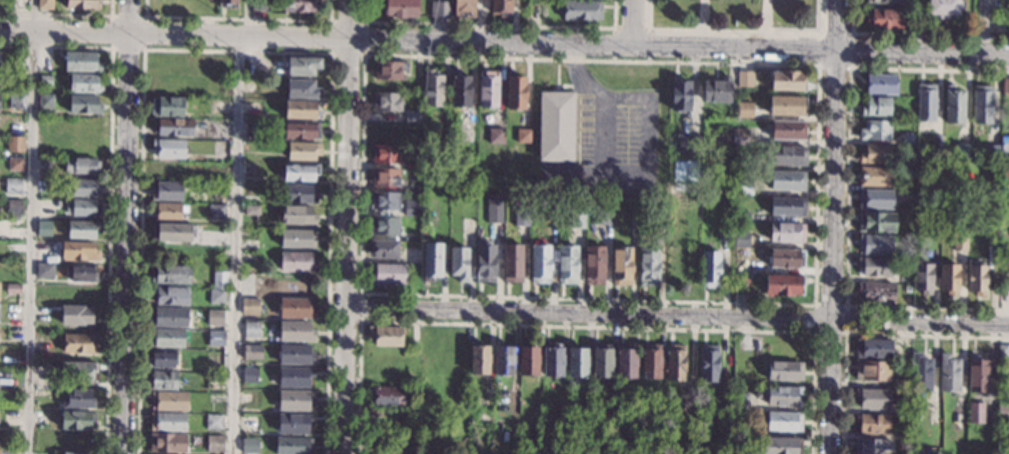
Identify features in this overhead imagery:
building: (885, 1)
building: (20, 4)
building: (82, 4)
building: (226, 4)
building: (45, 5)
building: (257, 5)
building: (300, 5)
building: (500, 7)
building: (399, 8)
building: (944, 8)
building: (439, 9)
building: (463, 9)
building: (534, 10)
building: (581, 10)
building: (883, 19)
road: (628, 22)
road: (983, 27)
road: (504, 40)
building: (44, 62)
building: (81, 62)
building: (302, 66)
building: (390, 70)
building: (744, 79)
building: (45, 80)
building: (787, 81)
building: (85, 84)
building: (881, 85)
building: (1005, 86)
building: (301, 89)
building: (432, 89)
building: (460, 90)
building: (488, 90)
building: (717, 90)
building: (515, 91)
building: (680, 95)
building: (17, 101)
building: (45, 101)
building: (386, 102)
building: (925, 103)
building: (84, 105)
building: (219, 105)
building: (953, 105)
building: (982, 105)
building: (787, 106)
building: (876, 106)
building: (167, 107)
building: (301, 110)
building: (744, 112)
building: (413, 116)
building: (555, 126)
building: (173, 127)
building: (252, 129)
building: (301, 130)
building: (787, 130)
building: (875, 130)
building: (441, 135)
building: (495, 136)
building: (524, 136)
building: (736, 136)
building: (905, 139)
building: (15, 143)
building: (937, 143)
building: (1004, 144)
building: (688, 145)
building: (169, 149)
building: (302, 151)
building: (962, 151)
building: (992, 152)
building: (386, 154)
building: (874, 154)
building: (787, 156)
building: (742, 161)
road: (833, 161)
building: (15, 164)
building: (413, 164)
building: (45, 165)
building: (80, 166)
building: (1004, 167)
building: (165, 169)
building: (220, 169)
building: (300, 172)
building: (413, 175)
building: (875, 176)
building: (385, 177)
building: (787, 181)
building: (15, 185)
building: (743, 187)
building: (86, 188)
building: (913, 191)
building: (167, 192)
building: (298, 193)
building: (875, 199)
building: (385, 201)
building: (14, 207)
building: (787, 207)
building: (83, 208)
building: (411, 208)
building: (493, 208)
building: (251, 210)
building: (169, 211)
building: (217, 212)
building: (599, 214)
building: (295, 215)
building: (741, 216)
building: (521, 218)
building: (576, 219)
building: (876, 222)
building: (633, 223)
road: (345, 226)
building: (385, 226)
road: (31, 227)
road: (125, 227)
building: (43, 228)
building: (658, 229)
building: (82, 230)
building: (173, 233)
building: (725, 233)
building: (786, 233)
building: (249, 235)
building: (298, 238)
building: (741, 239)
building: (959, 243)
building: (995, 243)
road: (235, 244)
building: (875, 244)
building: (384, 249)
building: (79, 251)
building: (411, 256)
building: (786, 259)
building: (431, 261)
building: (296, 262)
building: (485, 263)
building: (512, 263)
building: (459, 264)
building: (540, 264)
building: (567, 264)
building: (594, 265)
building: (622, 265)
building: (741, 265)
building: (648, 266)
building: (874, 266)
building: (710, 269)
building: (44, 271)
building: (81, 272)
building: (389, 274)
building: (171, 275)
building: (922, 277)
building: (948, 279)
building: (219, 280)
building: (976, 280)
building: (784, 285)
building: (741, 286)
building: (13, 289)
building: (875, 292)
building: (1003, 293)
building: (170, 295)
building: (216, 297)
building: (250, 307)
building: (296, 308)
road: (588, 314)
building: (75, 316)
building: (168, 317)
building: (215, 318)
road: (920, 324)
building: (251, 330)
building: (295, 331)
building: (385, 336)
building: (166, 338)
building: (216, 338)
building: (80, 343)
building: (873, 348)
building: (252, 352)
building: (1003, 352)
building: (295, 355)
building: (478, 357)
building: (162, 358)
building: (504, 358)
building: (528, 359)
building: (552, 359)
building: (601, 360)
building: (625, 361)
building: (650, 361)
building: (576, 363)
building: (674, 363)
building: (708, 364)
building: (784, 371)
building: (872, 371)
building: (76, 373)
building: (920, 373)
building: (948, 373)
building: (976, 374)
building: (250, 375)
building: (295, 377)
building: (214, 379)
building: (162, 380)
building: (901, 384)
road: (830, 388)
building: (388, 396)
building: (780, 396)
building: (872, 398)
building: (78, 400)
building: (170, 401)
building: (296, 401)
building: (741, 401)
building: (687, 402)
building: (722, 403)
building: (586, 409)
building: (1003, 411)
building: (974, 412)
building: (42, 418)
building: (77, 420)
building: (167, 422)
building: (214, 422)
building: (784, 422)
building: (294, 423)
building: (872, 423)
building: (1002, 437)
building: (167, 443)
building: (214, 443)
building: (249, 445)
building: (292, 445)
building: (780, 445)
building: (872, 447)
building: (74, 453)

